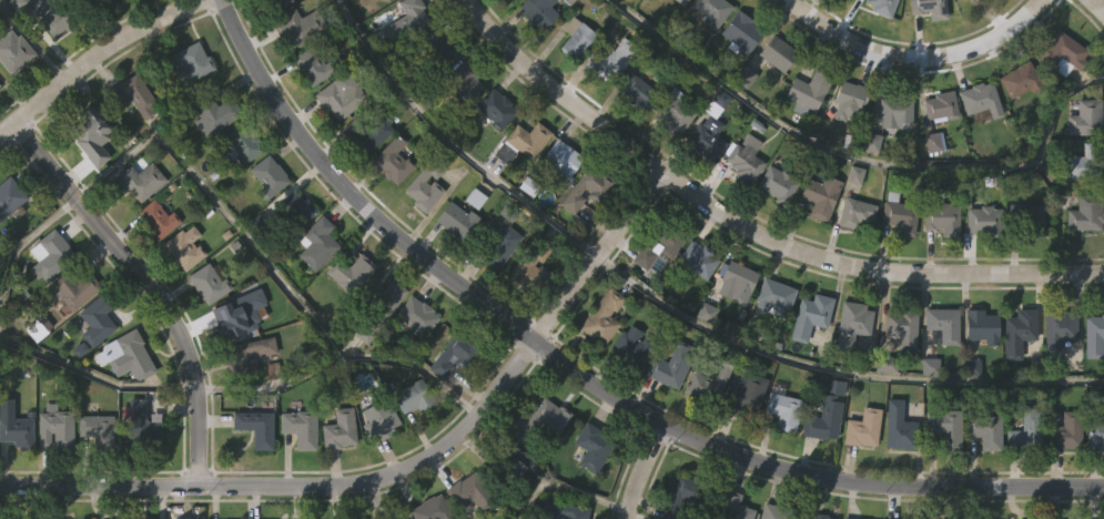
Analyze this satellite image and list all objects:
building: (109, 1)
building: (682, 1)
building: (1102, 1)
building: (364, 2)
building: (484, 2)
building: (273, 3)
building: (882, 6)
road: (1097, 7)
building: (645, 8)
building: (811, 8)
building: (930, 8)
building: (1103, 8)
building: (712, 9)
building: (539, 11)
building: (149, 12)
building: (47, 13)
building: (842, 20)
building: (980, 23)
building: (298, 24)
building: (403, 24)
building: (512, 24)
building: (675, 29)
building: (104, 31)
building: (742, 31)
building: (277, 32)
building: (574, 35)
building: (878, 44)
building: (439, 45)
building: (925, 48)
building: (13, 51)
building: (778, 52)
building: (1063, 52)
building: (708, 53)
building: (536, 54)
road: (97, 55)
building: (39, 57)
building: (610, 58)
road: (914, 59)
building: (185, 62)
building: (313, 64)
building: (402, 69)
building: (293, 72)
building: (465, 79)
building: (739, 80)
building: (1022, 80)
building: (573, 84)
building: (809, 89)
building: (634, 91)
building: (436, 92)
building: (133, 94)
building: (341, 94)
building: (12, 98)
building: (979, 98)
building: (774, 100)
building: (848, 100)
building: (1059, 100)
building: (941, 104)
building: (496, 108)
building: (604, 108)
building: (188, 109)
building: (676, 110)
building: (898, 110)
building: (308, 112)
building: (213, 113)
building: (1086, 118)
building: (742, 123)
building: (465, 124)
building: (1015, 126)
building: (367, 131)
building: (87, 134)
building: (707, 138)
building: (804, 138)
building: (635, 139)
building: (131, 141)
building: (523, 141)
building: (337, 142)
building: (241, 143)
road: (452, 143)
building: (976, 146)
building: (845, 149)
building: (936, 153)
building: (493, 154)
road: (862, 154)
building: (563, 157)
building: (745, 157)
building: (670, 159)
building: (892, 159)
building: (393, 161)
building: (1085, 161)
building: (212, 162)
building: (267, 175)
building: (364, 179)
building: (138, 181)
building: (426, 182)
building: (778, 183)
building: (703, 184)
building: (87, 185)
building: (525, 185)
building: (929, 189)
building: (601, 190)
building: (239, 191)
road: (351, 192)
building: (822, 194)
building: (9, 195)
building: (502, 199)
building: (558, 205)
building: (741, 206)
building: (389, 207)
building: (297, 211)
building: (899, 212)
building: (1086, 212)
building: (857, 213)
building: (158, 217)
building: (943, 217)
building: (1027, 217)
building: (457, 220)
building: (985, 220)
building: (266, 222)
building: (136, 227)
road: (748, 227)
building: (773, 231)
building: (585, 234)
building: (421, 235)
road: (23, 241)
building: (499, 241)
building: (9, 242)
building: (317, 243)
building: (669, 243)
building: (818, 243)
building: (184, 246)
road: (598, 252)
building: (51, 255)
building: (293, 255)
building: (699, 258)
building: (853, 261)
building: (1082, 262)
building: (897, 263)
road: (266, 264)
building: (1024, 264)
building: (153, 265)
building: (939, 265)
building: (454, 266)
building: (533, 266)
building: (980, 267)
building: (351, 272)
building: (739, 279)
building: (209, 283)
road: (148, 286)
building: (75, 288)
building: (315, 289)
building: (496, 289)
building: (182, 294)
building: (655, 294)
building: (383, 296)
building: (774, 296)
building: (47, 301)
building: (695, 305)
building: (528, 314)
building: (417, 315)
building: (811, 315)
building: (602, 316)
building: (97, 318)
building: (346, 318)
building: (233, 320)
building: (852, 324)
building: (944, 324)
building: (983, 325)
building: (903, 327)
building: (205, 329)
building: (736, 330)
building: (1059, 330)
building: (1020, 332)
building: (72, 335)
building: (1095, 336)
building: (771, 343)
building: (384, 345)
building: (632, 348)
building: (455, 354)
building: (237, 355)
building: (125, 356)
building: (414, 363)
building: (808, 363)
building: (599, 364)
building: (671, 365)
building: (93, 367)
building: (231, 367)
road: (837, 368)
building: (849, 370)
building: (979, 373)
building: (898, 375)
road: (95, 377)
building: (710, 377)
building: (1056, 377)
building: (1015, 378)
building: (359, 379)
building: (1092, 381)
road: (596, 384)
building: (628, 393)
building: (743, 393)
building: (414, 396)
building: (245, 400)
building: (448, 401)
building: (123, 403)
building: (784, 410)
building: (882, 410)
building: (667, 413)
building: (925, 413)
building: (968, 413)
building: (378, 419)
building: (543, 419)
building: (824, 419)
building: (55, 427)
building: (144, 427)
building: (255, 427)
building: (300, 427)
building: (863, 427)
building: (900, 427)
building: (945, 427)
building: (985, 428)
building: (341, 429)
building: (97, 430)
building: (703, 430)
building: (17, 431)
building: (1027, 431)
building: (1064, 432)
building: (1094, 434)
building: (741, 439)
building: (411, 444)
building: (592, 447)
building: (509, 455)
building: (781, 457)
building: (376, 466)
building: (539, 466)
building: (821, 466)
building: (139, 468)
road: (639, 469)
building: (895, 472)
building: (941, 472)
building: (253, 474)
building: (296, 474)
building: (53, 475)
building: (336, 475)
building: (860, 475)
building: (1023, 476)
building: (17, 477)
building: (95, 477)
building: (982, 477)
building: (1062, 479)
building: (1094, 480)
road: (879, 481)
road: (296, 488)
road: (565, 488)
building: (470, 492)
building: (590, 493)
building: (686, 496)
building: (509, 505)
building: (735, 507)
building: (432, 509)
building: (563, 510)
building: (777, 512)
road: (636, 515)
building: (817, 516)
building: (379, 517)
building: (470, 518)
building: (847, 518)

